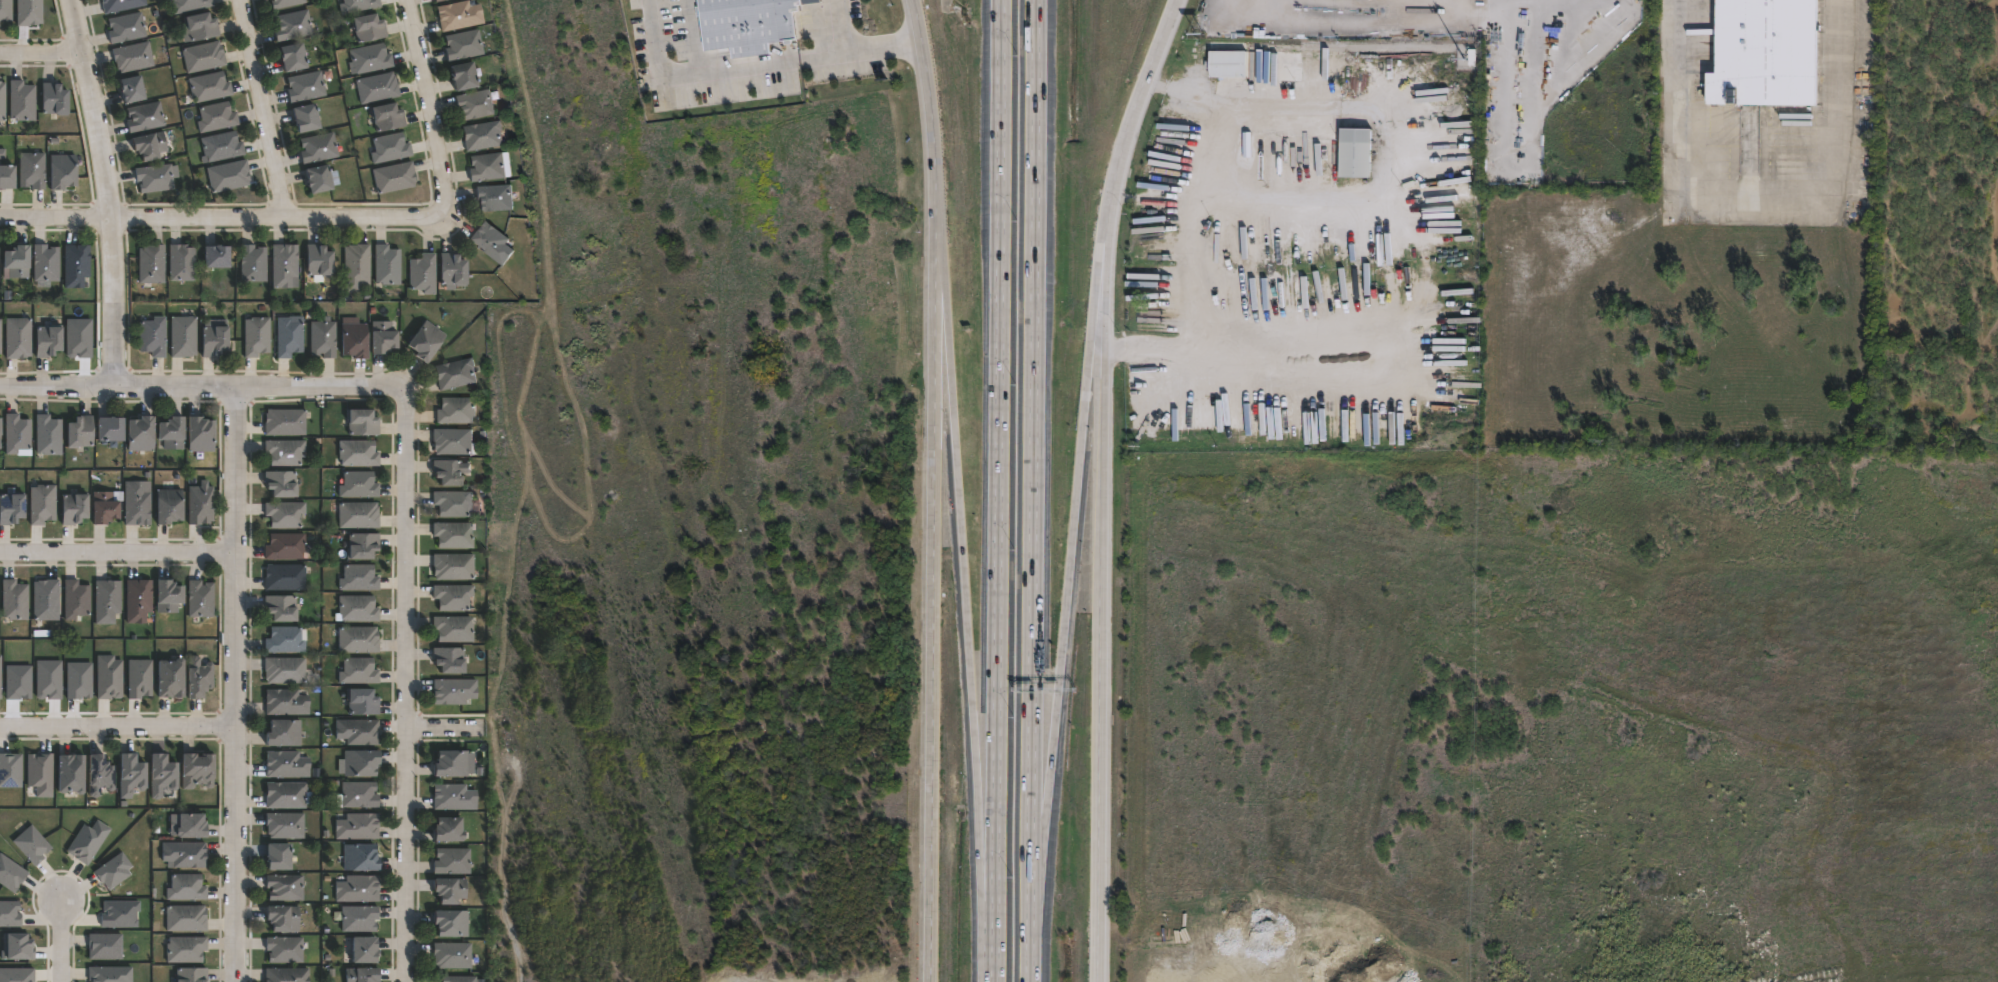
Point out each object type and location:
building: (438, 0)
building: (287, 4)
building: (190, 5)
building: (122, 6)
building: (358, 6)
building: (5, 11)
building: (28, 13)
building: (460, 15)
building: (745, 24)
road: (837, 24)
building: (293, 26)
building: (127, 28)
building: (199, 29)
building: (369, 29)
building: (464, 45)
road: (877, 45)
building: (1763, 53)
road: (42, 55)
building: (203, 57)
building: (133, 58)
building: (294, 59)
building: (371, 59)
building: (465, 74)
road: (716, 74)
building: (1234, 74)
building: (210, 88)
building: (306, 88)
building: (378, 89)
building: (132, 91)
building: (55, 98)
building: (3, 101)
building: (22, 101)
building: (476, 104)
road: (427, 105)
road: (1273, 105)
road: (262, 108)
road: (1135, 109)
building: (216, 117)
building: (145, 118)
building: (387, 118)
building: (306, 119)
building: (484, 135)
building: (150, 147)
building: (221, 148)
building: (319, 149)
building: (391, 149)
building: (1354, 152)
building: (488, 167)
building: (32, 169)
building: (62, 171)
building: (6, 175)
building: (229, 177)
building: (156, 178)
building: (396, 178)
building: (322, 179)
road: (1212, 190)
road: (106, 191)
road: (1761, 194)
building: (496, 197)
road: (55, 217)
road: (275, 217)
building: (493, 241)
building: (216, 256)
building: (17, 261)
building: (182, 262)
building: (319, 262)
building: (253, 263)
building: (151, 264)
building: (357, 264)
building: (45, 265)
building: (76, 265)
building: (285, 265)
building: (387, 265)
building: (454, 270)
building: (424, 273)
building: (0, 336)
building: (153, 336)
building: (183, 336)
building: (257, 336)
building: (289, 336)
road: (1292, 336)
building: (384, 337)
building: (17, 338)
building: (323, 339)
building: (47, 340)
building: (215, 340)
building: (355, 340)
building: (427, 340)
building: (75, 341)
road: (1106, 364)
building: (457, 373)
road: (202, 386)
building: (457, 410)
building: (285, 422)
building: (363, 422)
building: (110, 428)
building: (0, 431)
building: (80, 431)
building: (172, 432)
building: (16, 433)
building: (141, 434)
building: (201, 434)
building: (48, 435)
building: (455, 442)
building: (285, 452)
building: (358, 453)
road: (1035, 470)
building: (450, 472)
building: (281, 484)
building: (359, 485)
road: (930, 489)
road: (996, 491)
building: (42, 504)
building: (136, 504)
building: (201, 504)
building: (455, 504)
building: (169, 506)
building: (104, 508)
building: (11, 509)
building: (74, 509)
building: (285, 514)
building: (358, 515)
building: (454, 535)
building: (362, 546)
building: (285, 547)
road: (117, 550)
road: (1105, 551)
building: (454, 567)
building: (285, 578)
building: (359, 578)
road: (1066, 582)
building: (169, 597)
building: (453, 597)
building: (76, 599)
building: (201, 599)
building: (46, 600)
building: (14, 601)
building: (107, 601)
building: (138, 601)
building: (281, 608)
building: (357, 609)
road: (966, 611)
building: (454, 629)
building: (358, 639)
building: (285, 641)
building: (450, 660)
building: (285, 670)
building: (359, 672)
building: (0, 674)
building: (110, 678)
building: (199, 678)
building: (140, 679)
building: (171, 679)
building: (43, 682)
building: (15, 683)
building: (75, 683)
road: (405, 683)
road: (234, 684)
building: (454, 691)
building: (362, 702)
building: (286, 703)
road: (117, 724)
road: (444, 729)
building: (358, 732)
building: (284, 734)
building: (360, 764)
building: (452, 764)
building: (286, 765)
building: (198, 771)
building: (8, 773)
building: (41, 773)
building: (131, 775)
building: (71, 776)
building: (100, 776)
building: (162, 776)
road: (1102, 789)
building: (286, 795)
building: (358, 796)
building: (454, 798)
building: (285, 826)
building: (192, 827)
building: (358, 827)
building: (449, 831)
building: (84, 844)
building: (29, 848)
building: (185, 855)
building: (279, 858)
building: (361, 859)
building: (453, 861)
building: (110, 873)
building: (8, 877)
building: (186, 888)
building: (285, 888)
building: (358, 890)
building: (452, 891)
building: (7, 914)
building: (115, 916)
building: (283, 918)
building: (186, 919)
building: (360, 919)
building: (453, 924)
road: (59, 940)
building: (13, 950)
building: (100, 950)
building: (187, 950)
building: (285, 950)
building: (365, 950)
building: (453, 955)
road: (1029, 961)
building: (191, 974)
building: (287, 974)
building: (363, 974)
building: (105, 975)
building: (14, 977)
building: (459, 978)

